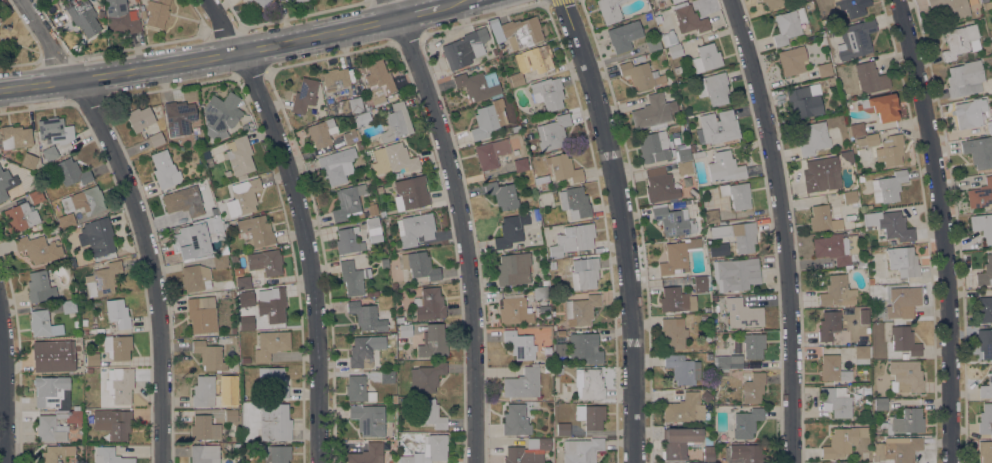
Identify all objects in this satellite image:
building: (249, 0)
building: (287, 0)
building: (299, 1)
building: (674, 1)
building: (262, 2)
building: (67, 3)
building: (661, 3)
building: (772, 3)
building: (851, 7)
building: (951, 8)
building: (609, 10)
building: (142, 11)
building: (157, 12)
building: (648, 16)
building: (83, 17)
building: (121, 17)
building: (0, 18)
building: (688, 19)
building: (788, 25)
building: (516, 30)
building: (654, 31)
building: (624, 35)
building: (810, 36)
building: (668, 38)
building: (855, 40)
building: (959, 41)
building: (652, 44)
building: (461, 50)
building: (675, 50)
road: (238, 53)
building: (706, 58)
building: (534, 59)
building: (986, 59)
building: (792, 60)
building: (824, 69)
building: (678, 70)
building: (641, 75)
building: (867, 78)
building: (964, 78)
building: (514, 79)
building: (334, 81)
building: (829, 81)
building: (379, 82)
building: (478, 85)
building: (713, 88)
building: (547, 93)
building: (305, 96)
building: (845, 97)
building: (390, 98)
building: (803, 102)
building: (355, 104)
building: (367, 105)
building: (880, 106)
building: (652, 112)
building: (220, 115)
building: (963, 115)
building: (179, 117)
building: (139, 118)
building: (488, 119)
building: (362, 120)
building: (395, 122)
building: (991, 123)
building: (717, 127)
building: (516, 128)
building: (855, 129)
building: (55, 130)
building: (552, 132)
building: (320, 133)
building: (845, 135)
building: (351, 136)
building: (15, 137)
building: (156, 139)
building: (814, 139)
building: (867, 140)
building: (654, 147)
building: (692, 147)
building: (890, 150)
building: (978, 151)
building: (49, 153)
building: (490, 153)
building: (205, 154)
building: (683, 154)
building: (239, 155)
building: (697, 155)
building: (393, 159)
building: (28, 160)
building: (336, 165)
building: (520, 165)
building: (724, 167)
building: (685, 168)
building: (565, 169)
building: (164, 170)
building: (72, 173)
building: (227, 173)
building: (818, 176)
building: (537, 182)
building: (6, 183)
building: (660, 186)
building: (888, 187)
building: (217, 191)
building: (410, 193)
building: (502, 195)
building: (737, 195)
building: (980, 195)
building: (35, 196)
building: (245, 196)
building: (88, 200)
building: (184, 200)
building: (850, 200)
building: (348, 201)
building: (574, 202)
building: (694, 204)
building: (368, 211)
road: (142, 216)
building: (711, 216)
building: (20, 217)
building: (821, 218)
building: (869, 219)
building: (675, 220)
building: (66, 221)
road: (305, 221)
building: (857, 224)
building: (225, 225)
road: (465, 225)
road: (627, 226)
building: (895, 226)
building: (983, 226)
building: (216, 227)
road: (640, 227)
road: (772, 228)
road: (782, 228)
building: (373, 229)
building: (415, 229)
road: (947, 229)
building: (256, 230)
building: (511, 230)
building: (737, 235)
building: (576, 237)
building: (100, 238)
building: (707, 238)
building: (192, 240)
building: (347, 241)
building: (382, 246)
building: (519, 246)
building: (38, 249)
building: (839, 250)
building: (555, 251)
building: (677, 256)
building: (233, 258)
building: (903, 261)
building: (71, 262)
building: (220, 262)
building: (384, 263)
building: (263, 265)
building: (419, 265)
building: (94, 266)
building: (513, 269)
building: (985, 272)
building: (584, 273)
building: (735, 274)
building: (352, 277)
building: (195, 278)
building: (102, 279)
building: (870, 281)
building: (545, 282)
building: (243, 283)
building: (700, 284)
building: (393, 285)
building: (712, 285)
building: (40, 287)
building: (540, 292)
building: (837, 292)
building: (231, 293)
building: (372, 293)
building: (674, 300)
building: (902, 300)
building: (68, 305)
building: (427, 305)
building: (270, 306)
building: (985, 309)
building: (514, 310)
building: (581, 310)
building: (117, 313)
building: (742, 314)
building: (202, 315)
building: (366, 316)
building: (399, 319)
building: (43, 324)
building: (76, 324)
building: (829, 326)
building: (84, 329)
building: (673, 333)
building: (404, 334)
building: (904, 340)
building: (432, 342)
building: (392, 343)
building: (984, 343)
building: (270, 344)
building: (519, 345)
building: (753, 345)
building: (117, 347)
building: (584, 348)
building: (559, 349)
building: (364, 350)
building: (861, 352)
building: (209, 355)
building: (53, 356)
building: (406, 356)
building: (904, 356)
building: (92, 359)
building: (245, 360)
building: (727, 362)
building: (547, 368)
building: (683, 369)
building: (832, 369)
building: (89, 370)
building: (558, 371)
building: (905, 376)
building: (387, 377)
building: (426, 377)
building: (234, 378)
building: (272, 383)
building: (523, 383)
road: (5, 384)
building: (588, 384)
building: (119, 385)
building: (753, 388)
building: (986, 388)
building: (358, 389)
building: (203, 391)
building: (706, 396)
building: (394, 399)
building: (837, 401)
building: (880, 404)
building: (684, 408)
building: (62, 409)
building: (428, 413)
building: (230, 416)
building: (590, 416)
building: (368, 419)
building: (985, 419)
building: (515, 421)
building: (274, 422)
building: (906, 422)
building: (746, 423)
building: (121, 426)
building: (876, 427)
building: (204, 428)
building: (562, 429)
building: (679, 441)
building: (707, 441)
building: (842, 441)
building: (429, 450)
building: (581, 450)
building: (898, 450)
building: (528, 451)
building: (985, 451)
building: (707, 453)
building: (746, 453)
building: (54, 454)
building: (204, 454)
building: (275, 454)
building: (367, 454)
building: (109, 456)
building: (697, 462)

